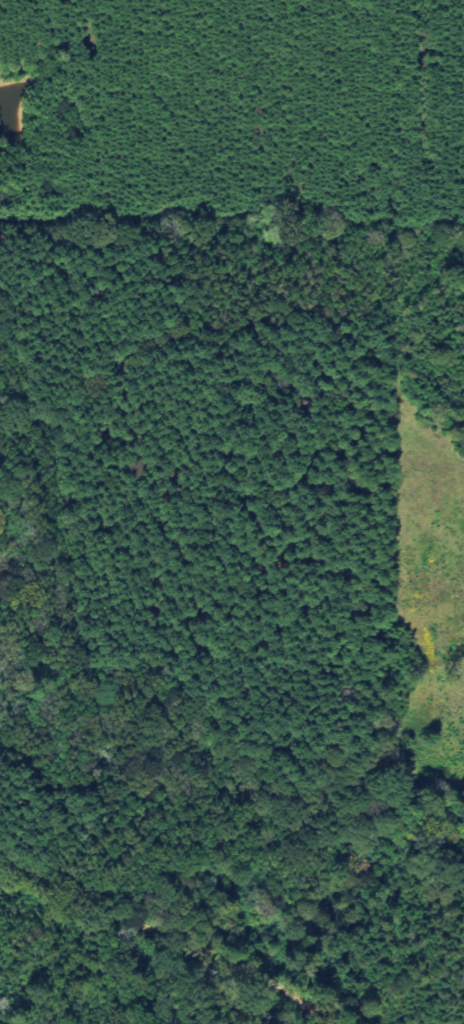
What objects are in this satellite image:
road: (157, 935)

